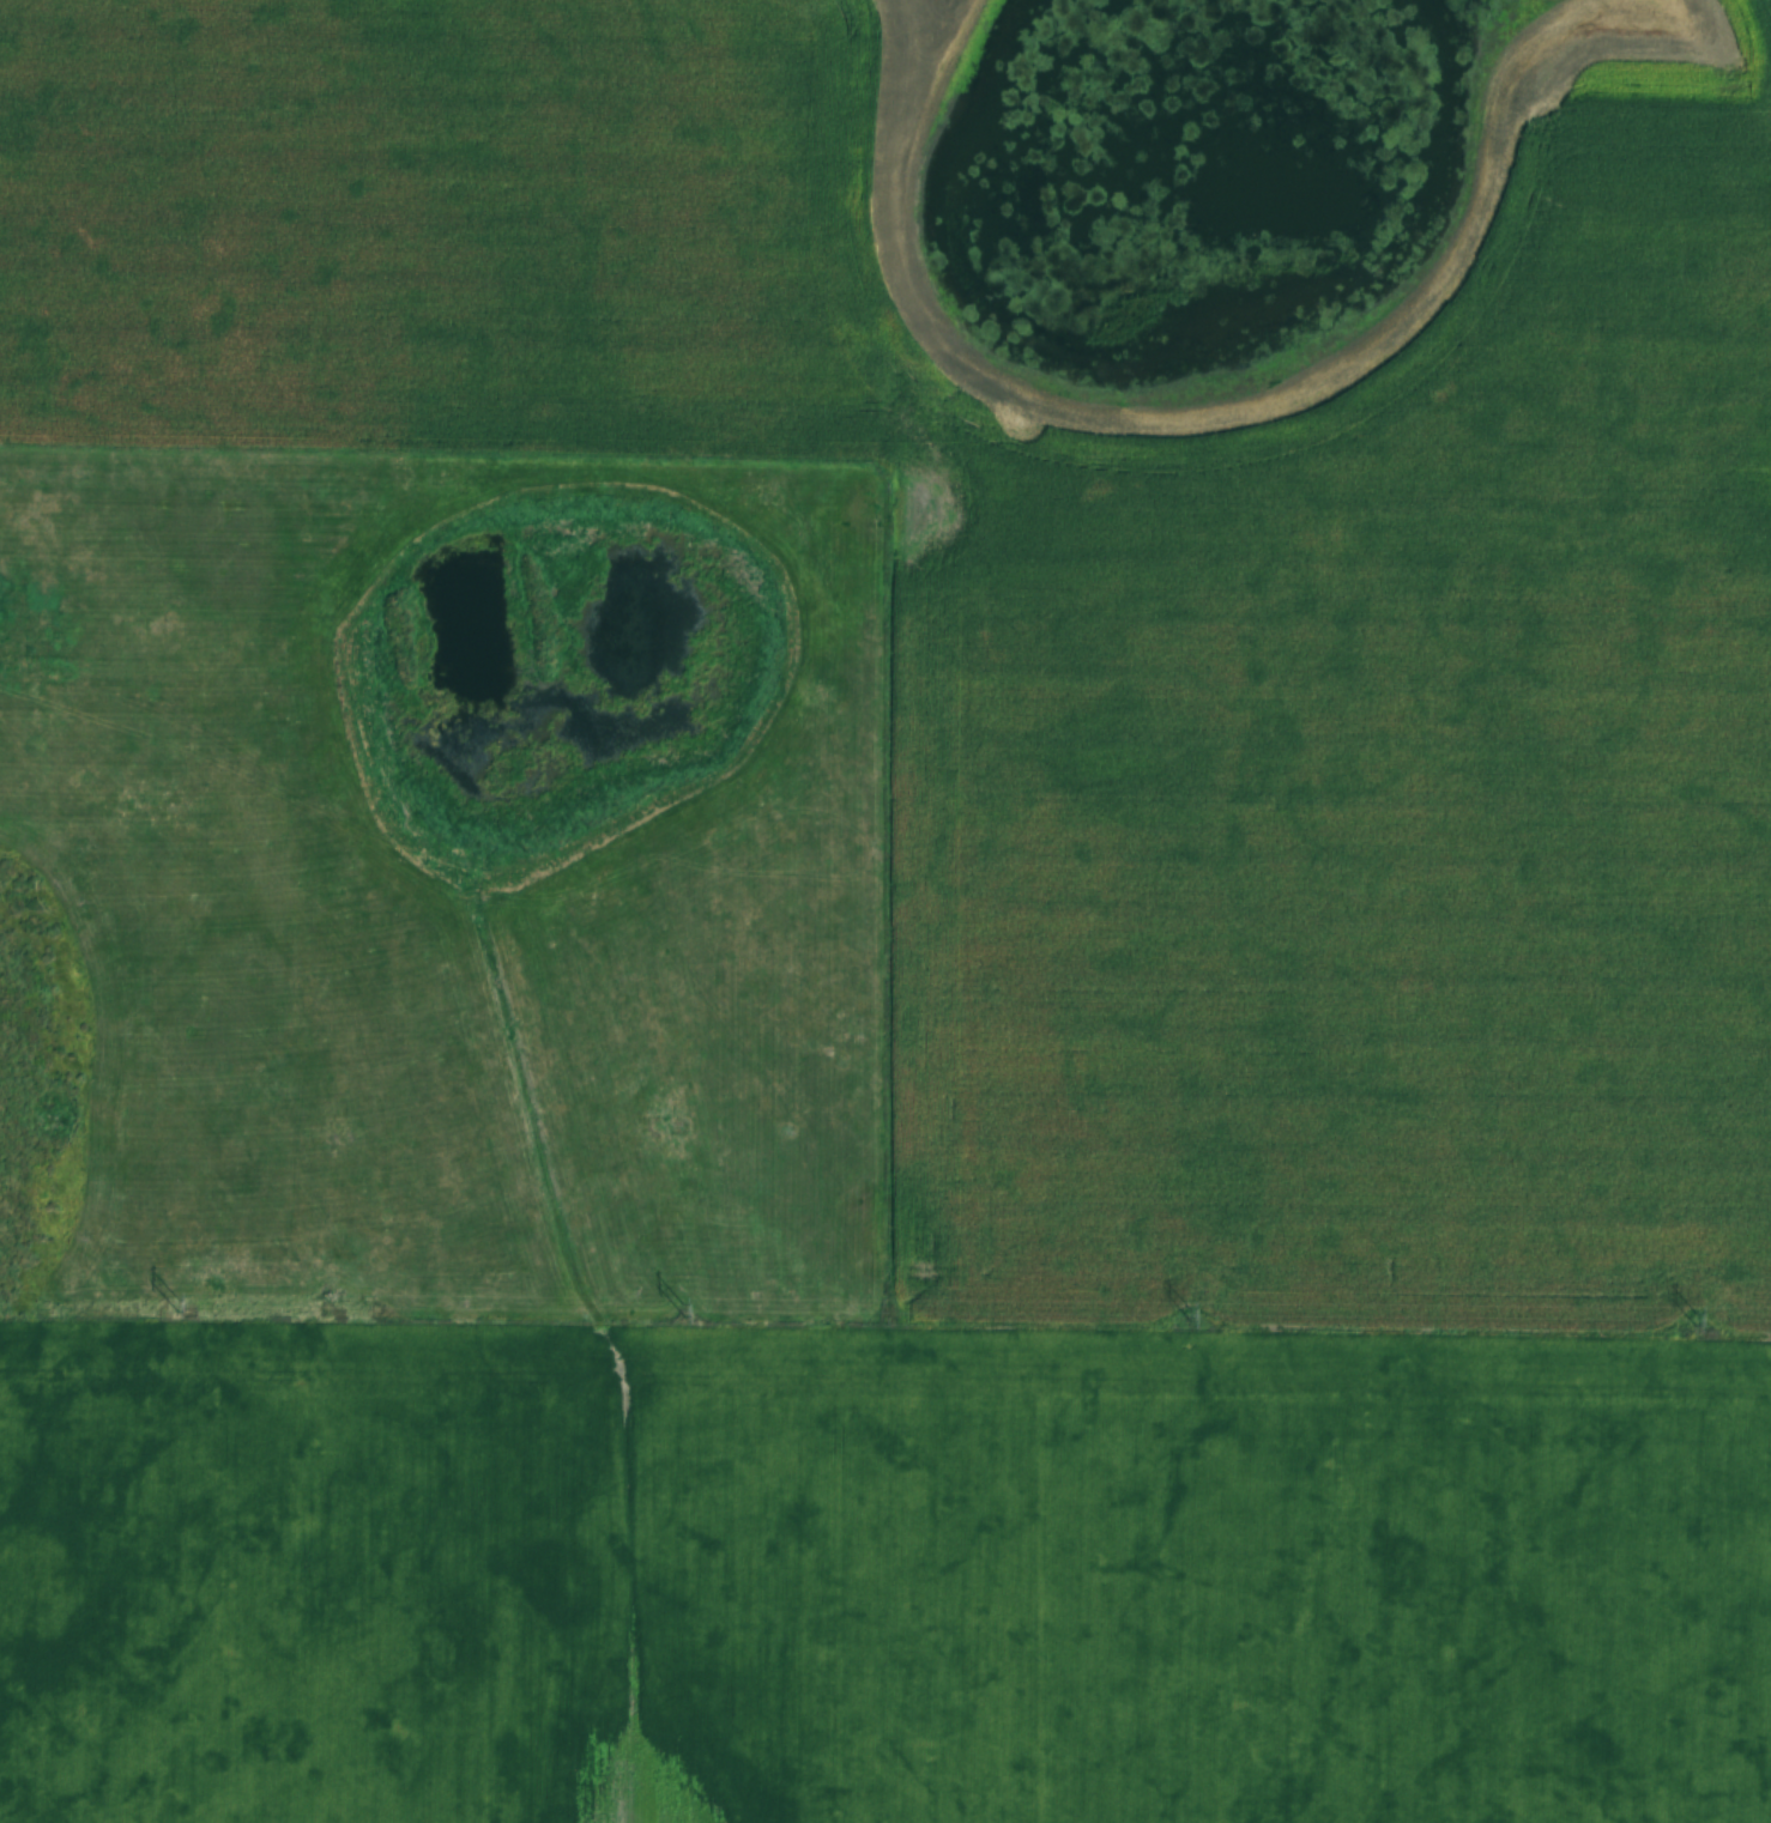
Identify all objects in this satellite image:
power tower: (177, 1304)
power tower: (683, 1310)
power tower: (1189, 1315)
power tower: (1697, 1320)

